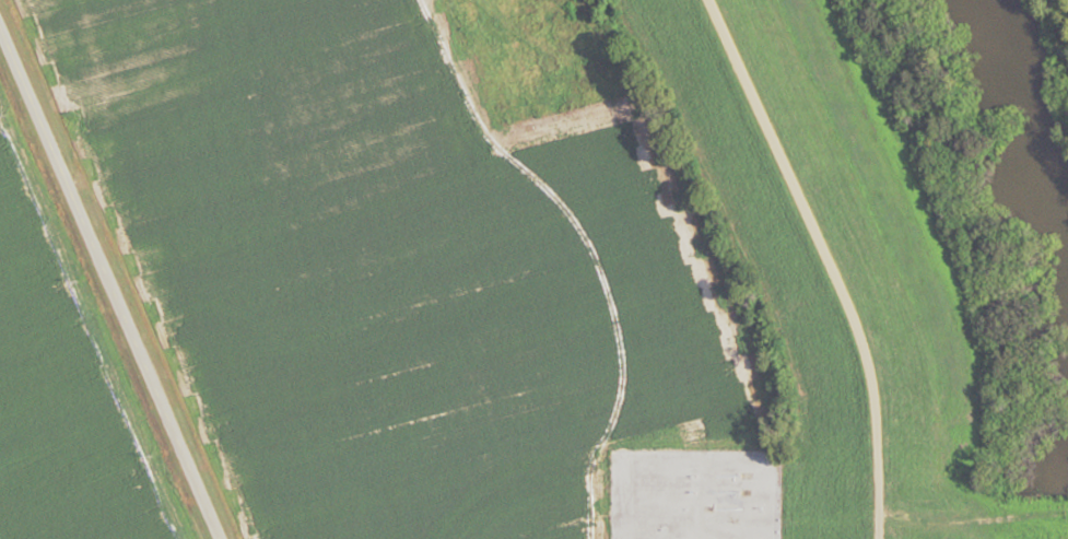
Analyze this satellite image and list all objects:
road: (826, 259)
road: (108, 285)
road: (972, 519)

